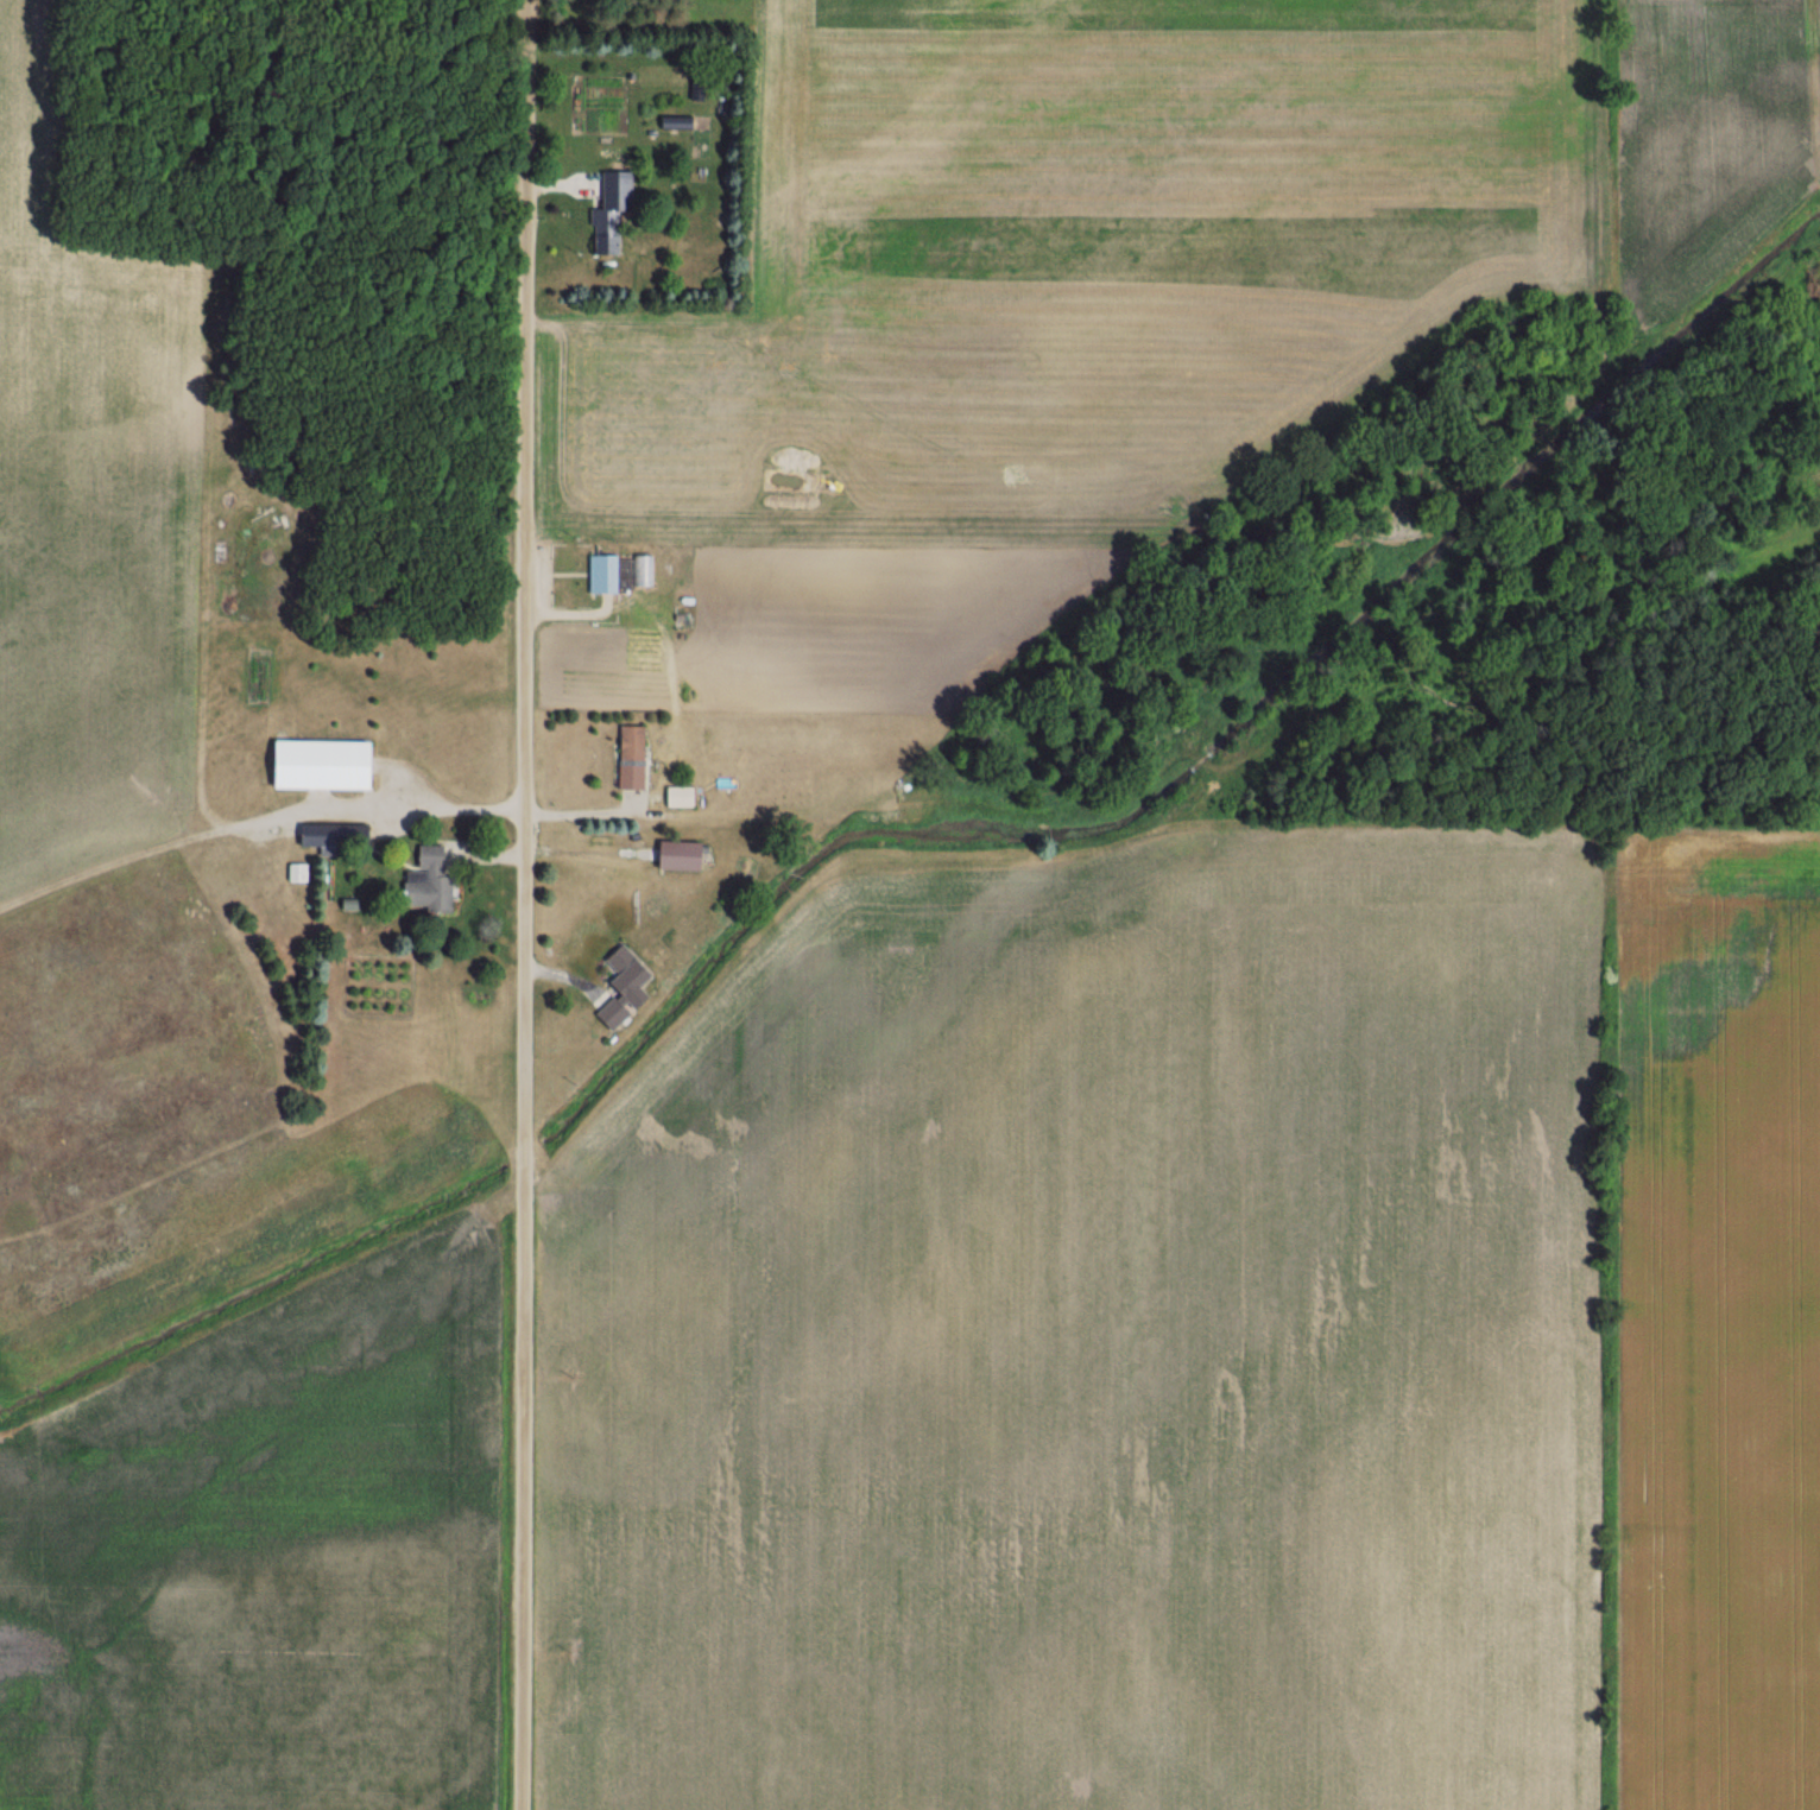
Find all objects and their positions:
building: (607, 219)
road: (259, 304)
building: (628, 759)
building: (317, 766)
building: (678, 797)
road: (609, 809)
building: (329, 838)
building: (674, 856)
building: (424, 884)
road: (522, 904)
building: (619, 986)

